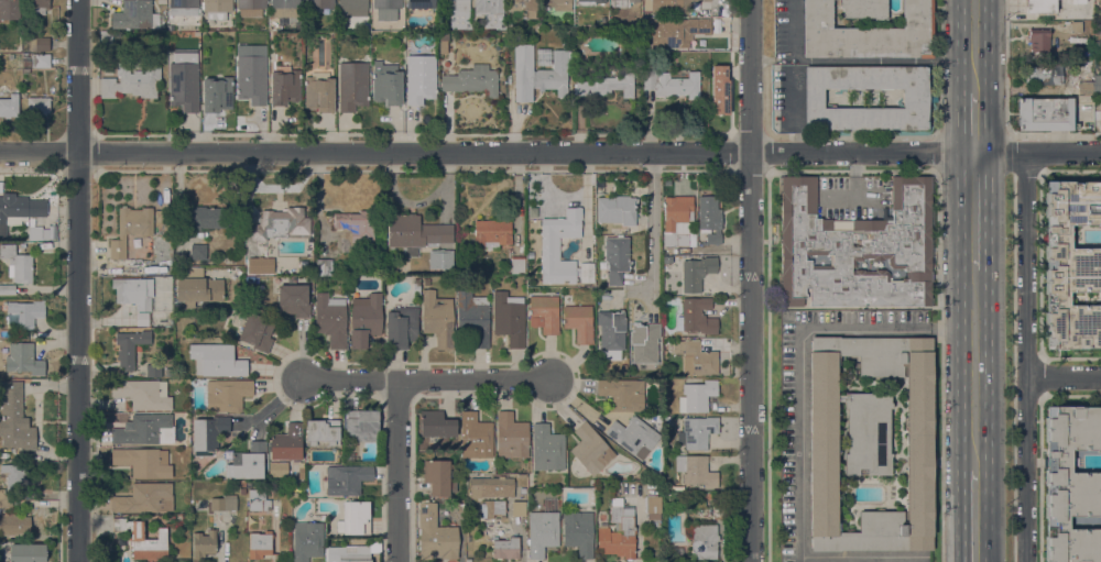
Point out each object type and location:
building: (707, 0)
building: (590, 2)
building: (622, 2)
building: (1100, 2)
building: (318, 3)
building: (421, 3)
building: (557, 4)
building: (667, 5)
building: (1045, 5)
building: (37, 7)
building: (251, 7)
building: (521, 7)
building: (183, 8)
building: (285, 8)
building: (353, 8)
building: (9, 9)
building: (217, 9)
building: (386, 9)
building: (864, 9)
building: (457, 12)
building: (491, 12)
building: (135, 14)
building: (1077, 26)
building: (677, 31)
building: (1100, 31)
building: (568, 33)
building: (868, 33)
building: (106, 41)
building: (1039, 41)
building: (443, 42)
building: (39, 43)
road: (974, 46)
building: (1099, 47)
building: (542, 56)
building: (25, 62)
building: (42, 62)
building: (1088, 64)
building: (538, 73)
building: (1044, 74)
building: (419, 78)
building: (184, 79)
building: (251, 79)
building: (472, 80)
building: (131, 81)
building: (386, 82)
building: (672, 84)
building: (285, 85)
building: (608, 85)
building: (1097, 85)
building: (352, 86)
building: (1086, 88)
building: (719, 90)
building: (319, 92)
building: (217, 93)
building: (919, 98)
building: (9, 106)
building: (37, 106)
building: (1044, 114)
building: (1100, 114)
road: (974, 122)
road: (550, 153)
building: (617, 209)
building: (18, 210)
road: (974, 210)
building: (209, 218)
building: (679, 219)
building: (709, 219)
building: (281, 223)
building: (131, 228)
building: (353, 228)
road: (652, 228)
building: (415, 231)
building: (492, 232)
building: (34, 233)
building: (550, 249)
building: (857, 249)
building: (198, 252)
building: (442, 258)
building: (617, 258)
building: (667, 260)
building: (18, 264)
building: (517, 264)
building: (1071, 265)
building: (255, 267)
building: (324, 267)
building: (697, 273)
road: (78, 280)
road: (750, 280)
building: (426, 282)
building: (416, 287)
building: (196, 288)
building: (8, 289)
building: (132, 293)
building: (294, 300)
building: (26, 312)
building: (544, 313)
building: (697, 317)
building: (509, 318)
building: (330, 319)
building: (366, 319)
building: (438, 319)
building: (472, 320)
building: (579, 322)
building: (401, 327)
building: (257, 332)
building: (611, 334)
building: (644, 342)
building: (129, 348)
road: (800, 355)
road: (1025, 356)
building: (23, 359)
building: (696, 359)
building: (217, 361)
road: (975, 368)
building: (159, 370)
road: (1062, 376)
road: (426, 379)
building: (141, 394)
building: (227, 395)
building: (622, 395)
building: (697, 396)
building: (12, 412)
building: (436, 423)
building: (362, 425)
building: (144, 430)
building: (323, 432)
building: (697, 432)
building: (208, 433)
building: (511, 436)
building: (633, 436)
building: (476, 437)
building: (871, 441)
building: (287, 442)
building: (547, 448)
building: (591, 449)
building: (143, 462)
building: (248, 462)
building: (279, 470)
road: (397, 471)
building: (696, 471)
building: (15, 474)
building: (437, 477)
building: (346, 478)
building: (1070, 483)
building: (242, 484)
building: (491, 487)
building: (242, 489)
building: (702, 496)
building: (710, 496)
building: (144, 498)
building: (258, 500)
building: (224, 503)
building: (652, 506)
building: (493, 508)
building: (519, 508)
building: (721, 513)
road: (975, 516)
building: (355, 518)
building: (13, 521)
building: (254, 521)
building: (544, 529)
building: (578, 531)
building: (618, 532)
building: (435, 535)
building: (143, 540)
building: (307, 540)
building: (704, 541)
building: (204, 543)
building: (260, 543)
building: (505, 548)
building: (28, 553)
building: (348, 553)
road: (858, 558)

